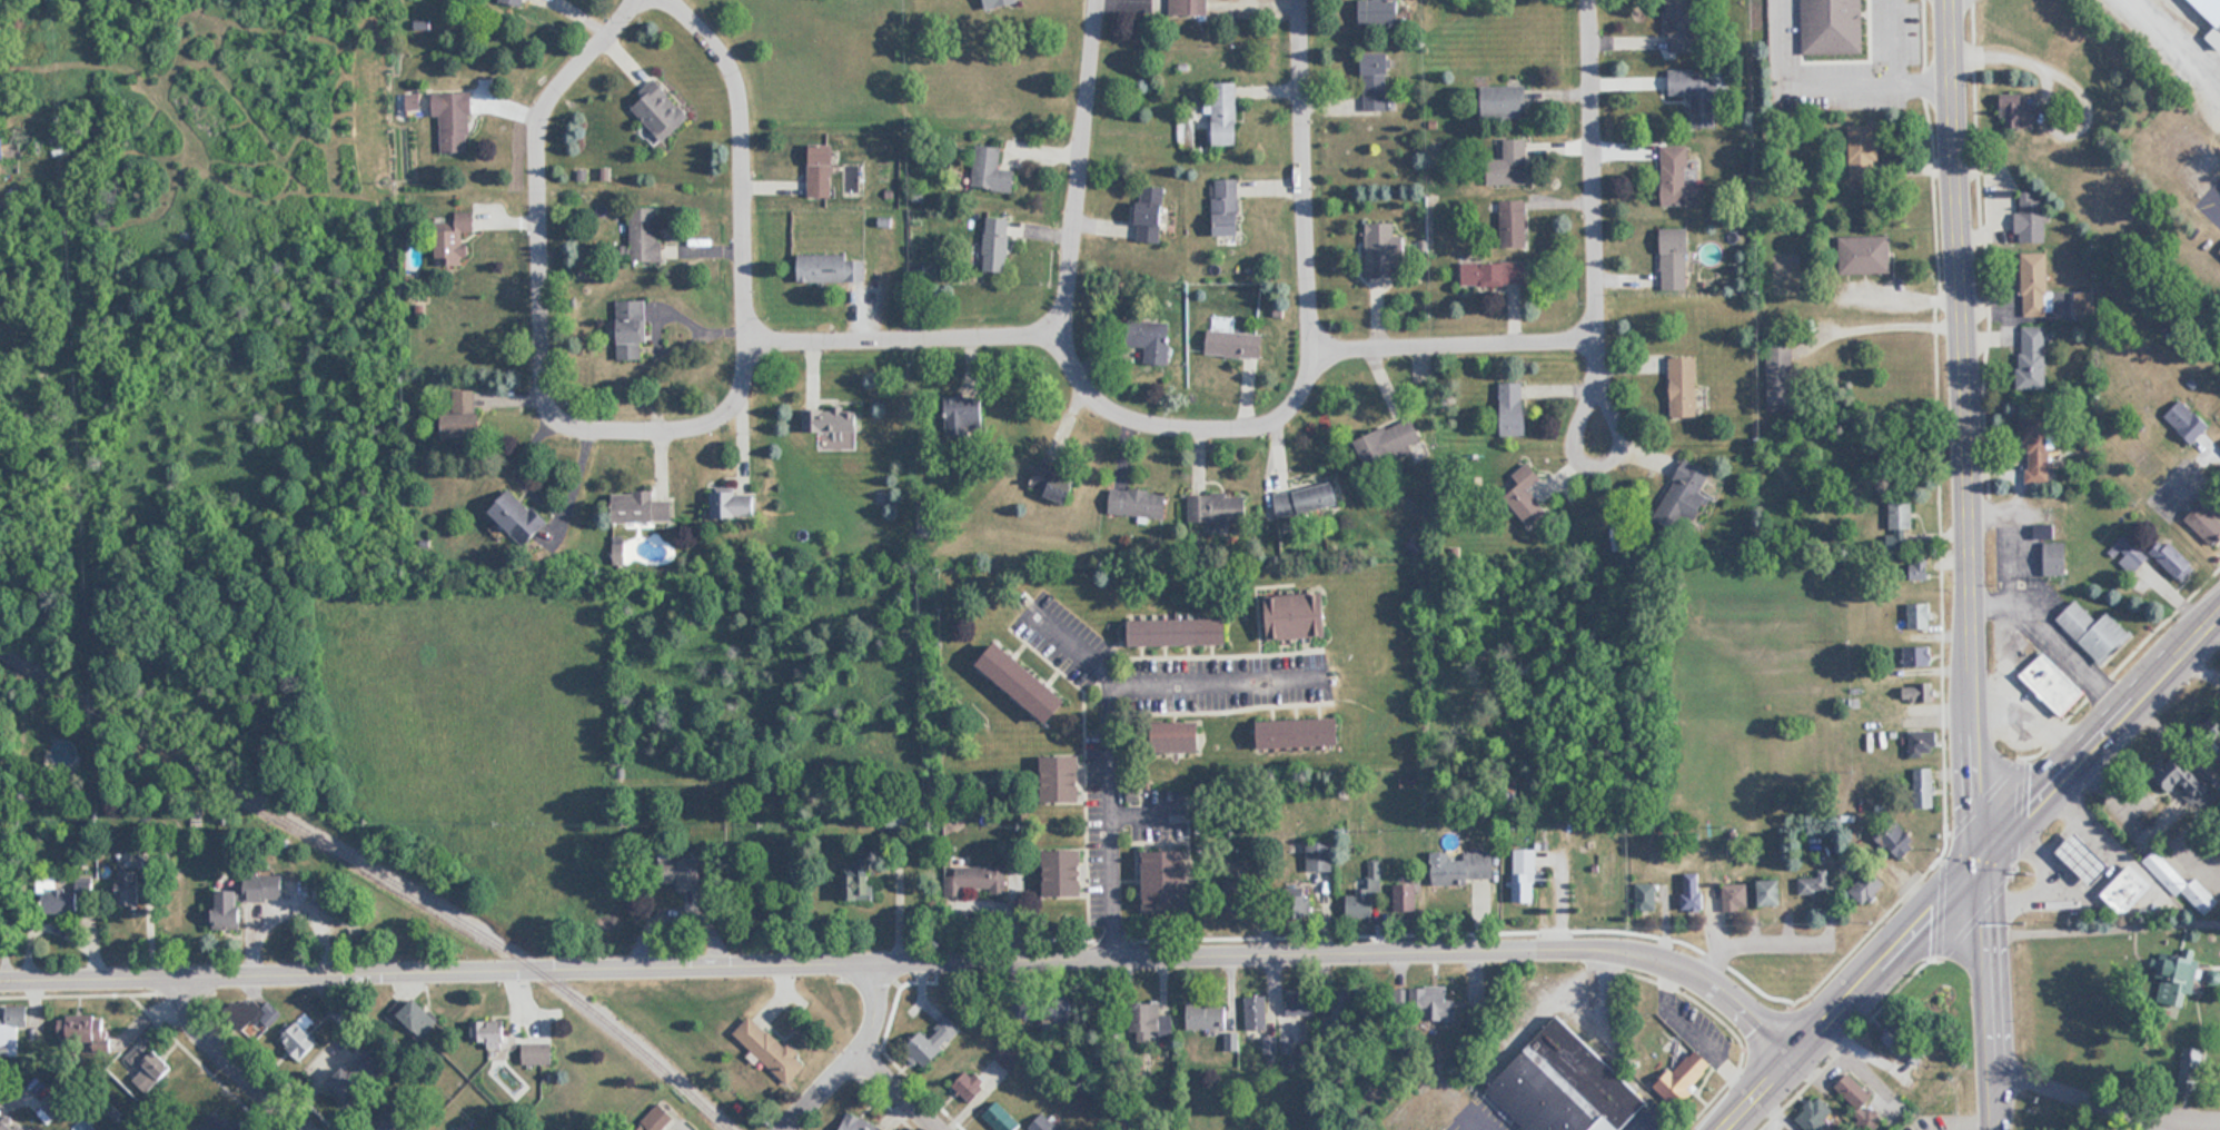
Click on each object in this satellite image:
building: (517, 1)
building: (999, 2)
building: (1191, 6)
building: (1379, 10)
building: (2210, 17)
building: (1682, 24)
building: (1832, 26)
building: (1377, 80)
building: (1697, 93)
building: (1504, 101)
building: (660, 109)
building: (2020, 110)
building: (1225, 112)
building: (453, 119)
building: (1, 148)
building: (1864, 151)
road: (1073, 160)
road: (1590, 160)
building: (1510, 162)
road: (1305, 167)
building: (822, 168)
building: (991, 169)
building: (1678, 177)
road: (537, 192)
building: (1226, 206)
building: (1152, 212)
building: (2031, 218)
building: (1514, 221)
building: (643, 235)
building: (455, 240)
building: (997, 242)
building: (2219, 248)
building: (1379, 249)
building: (1866, 254)
building: (1676, 257)
building: (831, 267)
building: (1494, 271)
road: (744, 278)
building: (2034, 284)
building: (2085, 310)
road: (1876, 314)
road: (900, 324)
building: (631, 329)
road: (1448, 329)
building: (1154, 340)
building: (1233, 343)
building: (2032, 356)
building: (1781, 378)
building: (1685, 384)
building: (1514, 407)
road: (1185, 414)
building: (463, 416)
building: (2188, 419)
building: (833, 426)
road: (1961, 427)
road: (1576, 440)
building: (1387, 443)
building: (2035, 449)
building: (1056, 480)
building: (1687, 493)
building: (1526, 495)
building: (1304, 499)
building: (733, 503)
building: (1138, 503)
building: (642, 507)
building: (1217, 508)
building: (518, 516)
building: (1900, 522)
building: (2206, 522)
building: (2128, 553)
building: (2055, 558)
building: (2174, 558)
building: (1300, 615)
building: (1917, 615)
building: (2095, 630)
building: (1181, 632)
road: (1076, 650)
road: (2198, 651)
building: (1917, 656)
building: (1027, 682)
building: (2053, 683)
building: (1916, 692)
road: (1107, 712)
road: (2095, 723)
building: (1301, 732)
building: (1182, 736)
building: (1924, 742)
building: (1062, 779)
building: (2187, 783)
building: (1924, 787)
road: (1142, 813)
building: (1894, 836)
building: (1319, 855)
traffic signals: (1976, 855)
building: (2088, 856)
gas station: (2088, 856)
railway: (386, 863)
building: (1464, 868)
building: (682, 872)
building: (1063, 872)
building: (1524, 875)
building: (1168, 879)
building: (856, 880)
building: (975, 882)
building: (2181, 883)
building: (1814, 884)
building: (130, 888)
building: (1866, 888)
building: (2130, 888)
building: (1693, 892)
building: (1773, 892)
building: (1366, 895)
building: (69, 896)
building: (1294, 896)
building: (1646, 896)
building: (246, 898)
building: (1406, 898)
building: (1736, 898)
road: (909, 950)
building: (2176, 979)
road: (1836, 990)
road: (1985, 992)
building: (1433, 1002)
building: (1297, 1003)
building: (1023, 1005)
building: (1256, 1013)
building: (1207, 1014)
building: (1340, 1014)
building: (257, 1015)
building: (418, 1015)
building: (1151, 1021)
building: (11, 1028)
building: (90, 1032)
building: (489, 1032)
building: (934, 1040)
building: (299, 1041)
building: (1906, 1042)
building: (770, 1049)
building: (538, 1052)
road: (848, 1053)
road: (226, 1055)
building: (1009, 1055)
building: (148, 1067)
building: (357, 1076)
building: (1685, 1077)
building: (1566, 1084)
building: (970, 1086)
road: (904, 1087)
building: (1857, 1098)
building: (60, 1108)
building: (1816, 1114)
building: (657, 1117)
building: (1000, 1117)
building: (216, 1122)
building: (9, 1123)
building: (859, 1123)
building: (1043, 1123)
building: (488, 1129)
building: (1781, 1129)

